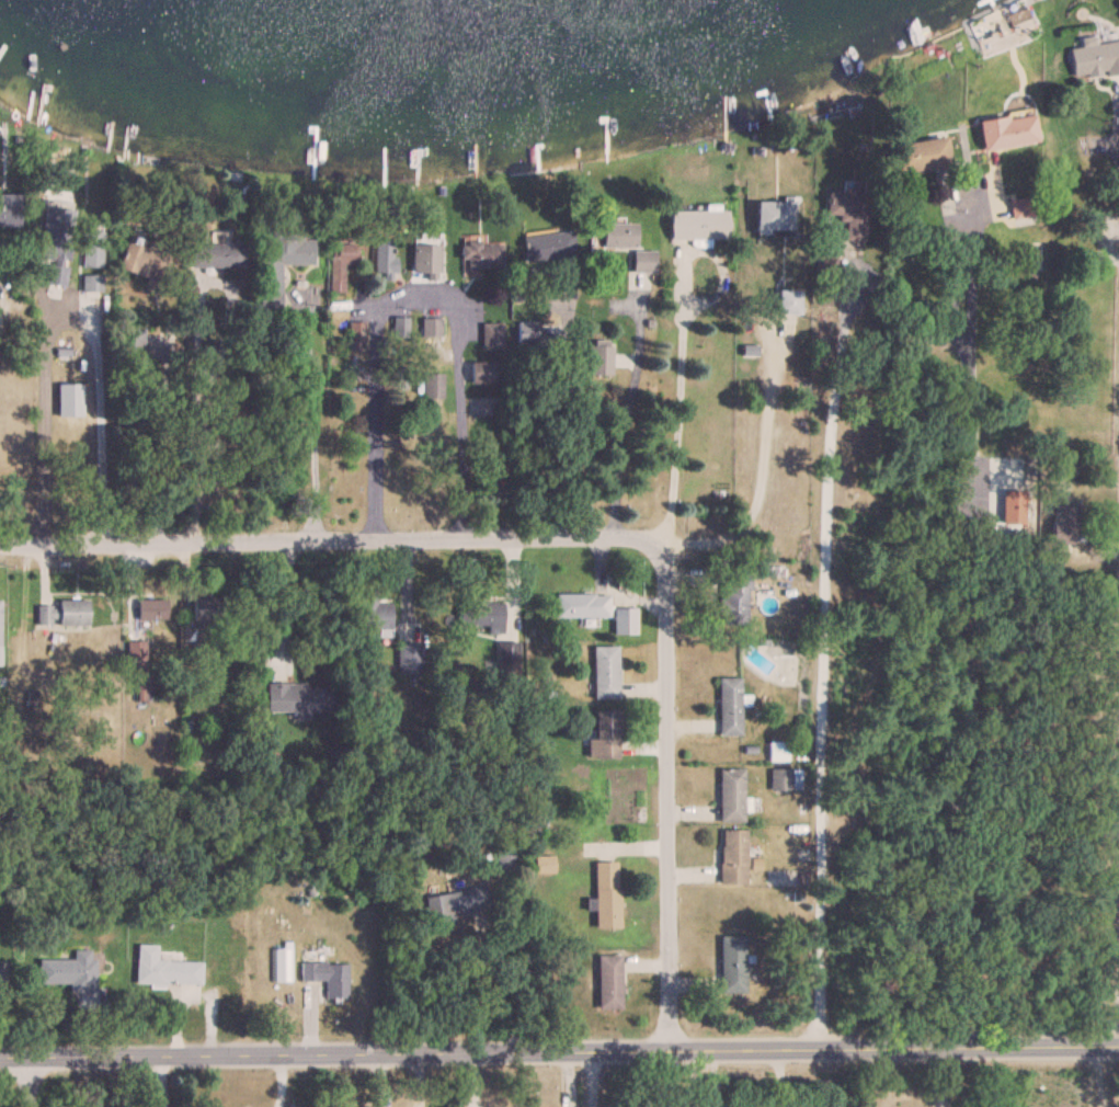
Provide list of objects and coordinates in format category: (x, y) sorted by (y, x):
building: (1094, 58)
building: (1007, 130)
road: (1117, 147)
building: (922, 153)
building: (9, 209)
building: (1021, 210)
building: (848, 214)
building: (773, 216)
building: (698, 224)
building: (625, 242)
building: (548, 246)
building: (91, 249)
building: (218, 254)
building: (481, 254)
building: (823, 254)
building: (425, 258)
building: (385, 259)
building: (281, 261)
building: (141, 263)
building: (340, 264)
building: (57, 266)
building: (91, 283)
road: (418, 289)
building: (1082, 292)
building: (787, 301)
road: (71, 312)
building: (399, 326)
building: (431, 326)
building: (526, 333)
building: (355, 335)
building: (492, 335)
road: (193, 345)
building: (600, 358)
building: (482, 372)
building: (432, 385)
building: (68, 400)
road: (676, 403)
road: (627, 411)
road: (309, 412)
road: (161, 430)
road: (544, 432)
road: (764, 467)
building: (225, 469)
building: (1062, 524)
road: (322, 540)
building: (735, 600)
road: (285, 604)
building: (581, 605)
building: (150, 608)
building: (206, 609)
building: (61, 613)
building: (374, 615)
building: (483, 615)
building: (624, 620)
road: (945, 651)
building: (408, 658)
building: (604, 672)
road: (801, 685)
building: (298, 698)
building: (729, 707)
building: (604, 735)
building: (783, 779)
road: (665, 792)
building: (730, 796)
building: (732, 857)
building: (505, 859)
building: (544, 865)
building: (605, 894)
building: (455, 902)
building: (731, 960)
building: (164, 968)
building: (69, 970)
building: (327, 975)
building: (608, 981)
road: (499, 990)
road: (559, 1050)
road: (939, 1077)
road: (589, 1079)
road: (779, 1079)
road: (711, 1080)
road: (30, 1082)

